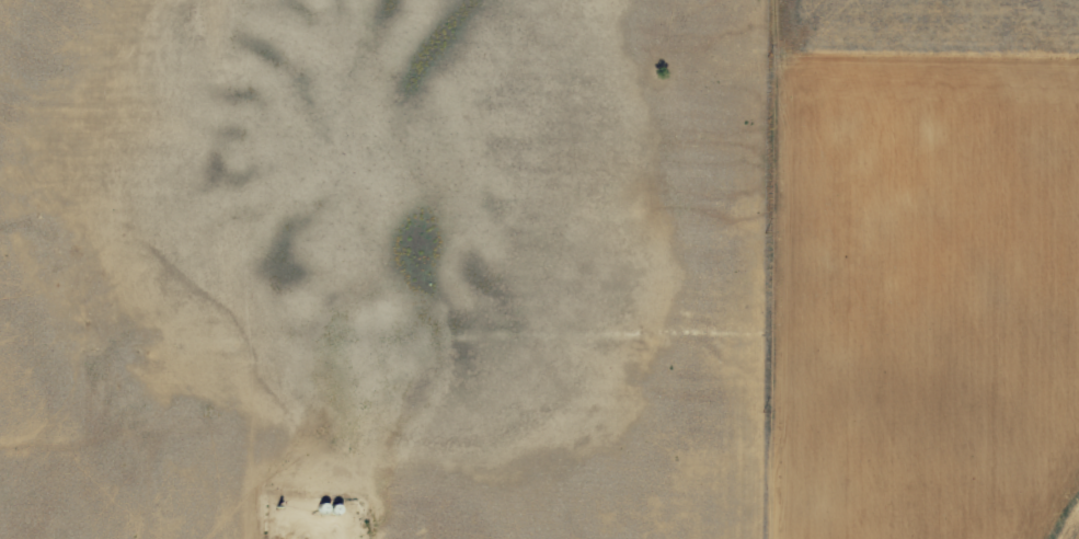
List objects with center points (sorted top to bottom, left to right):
road: (935, 34)
road: (788, 269)

